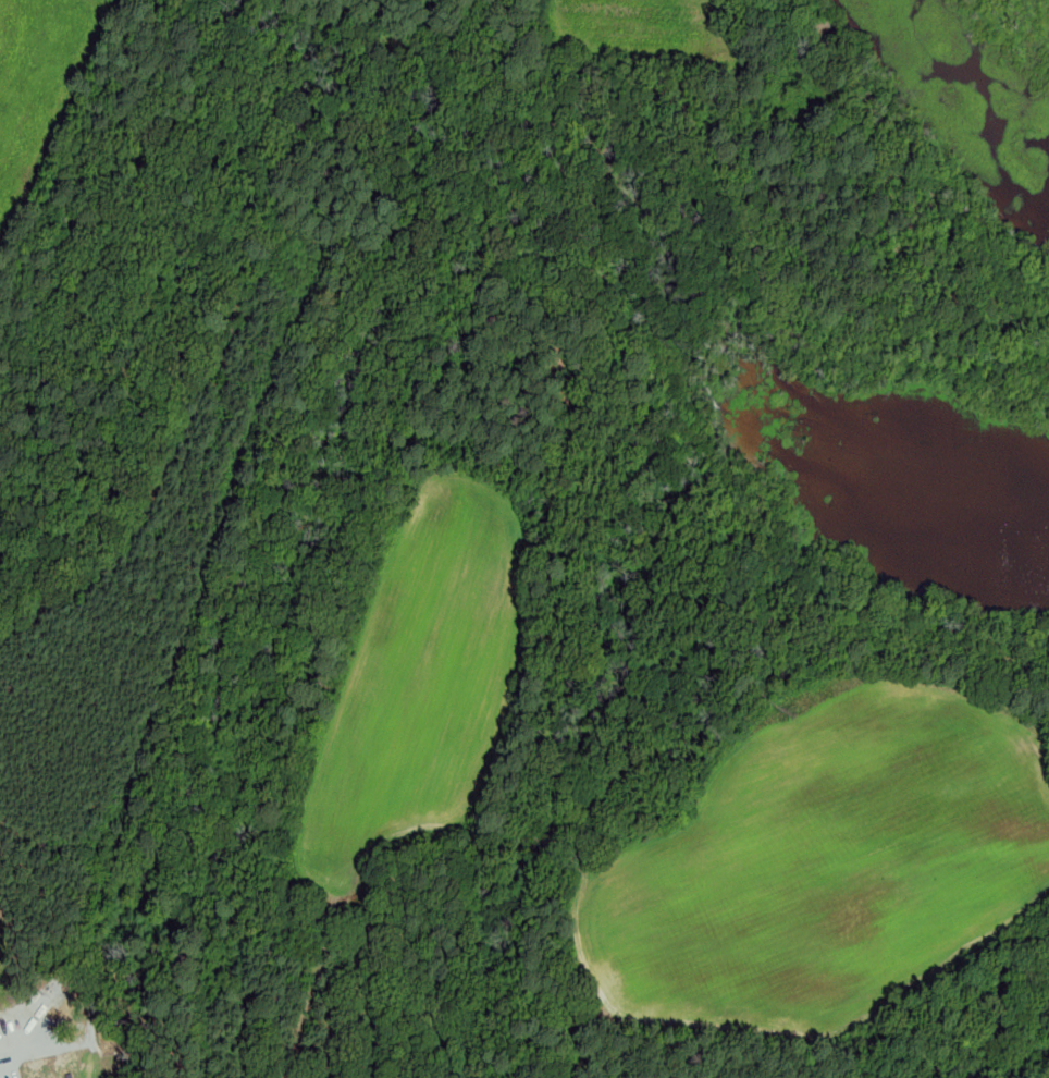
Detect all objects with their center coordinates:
road: (569, 474)
building: (41, 999)
building: (0, 1034)
road: (1, 1048)
road: (1032, 1070)

